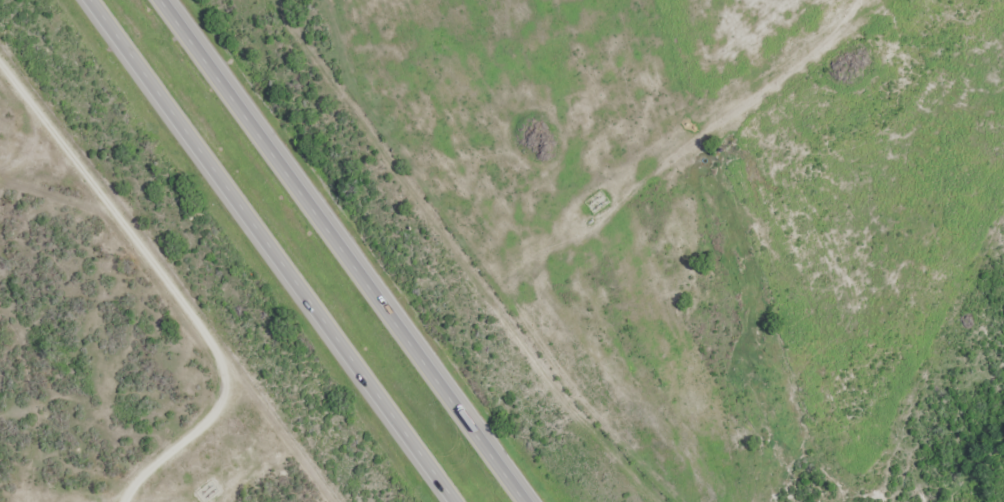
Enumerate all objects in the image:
road: (276, 250)
road: (348, 251)
road: (171, 285)

